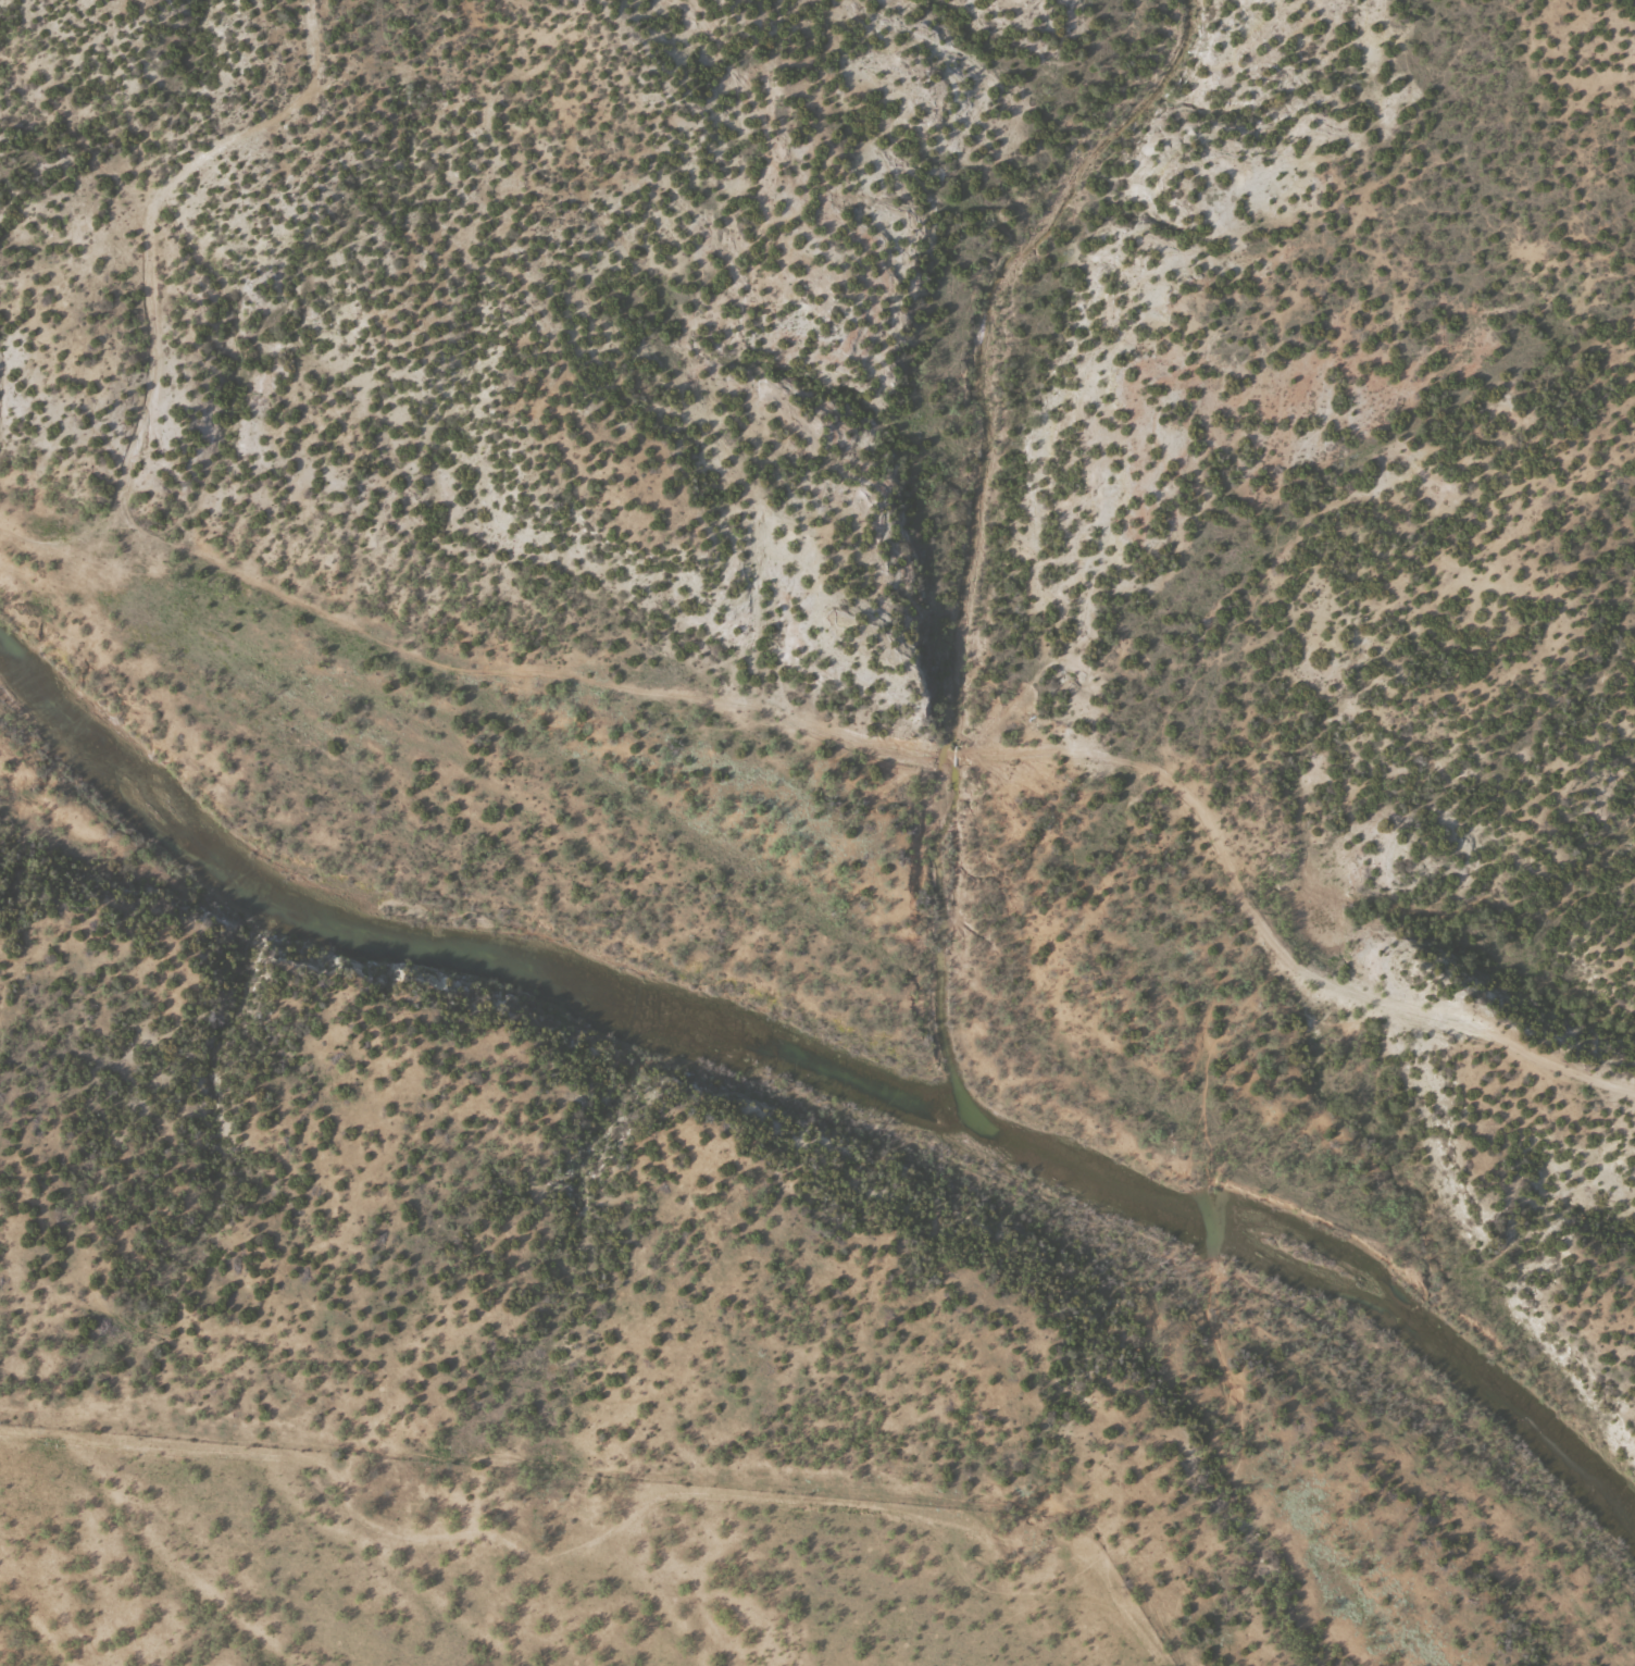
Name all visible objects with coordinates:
road: (136, 303)
river: (822, 1069)

